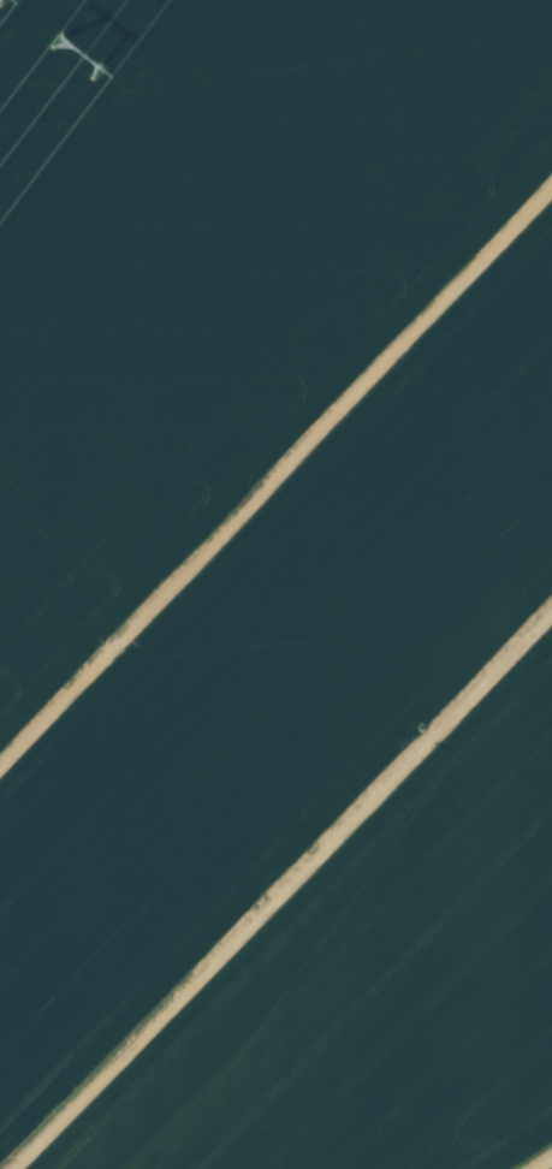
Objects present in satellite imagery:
power tower: (82, 59)

